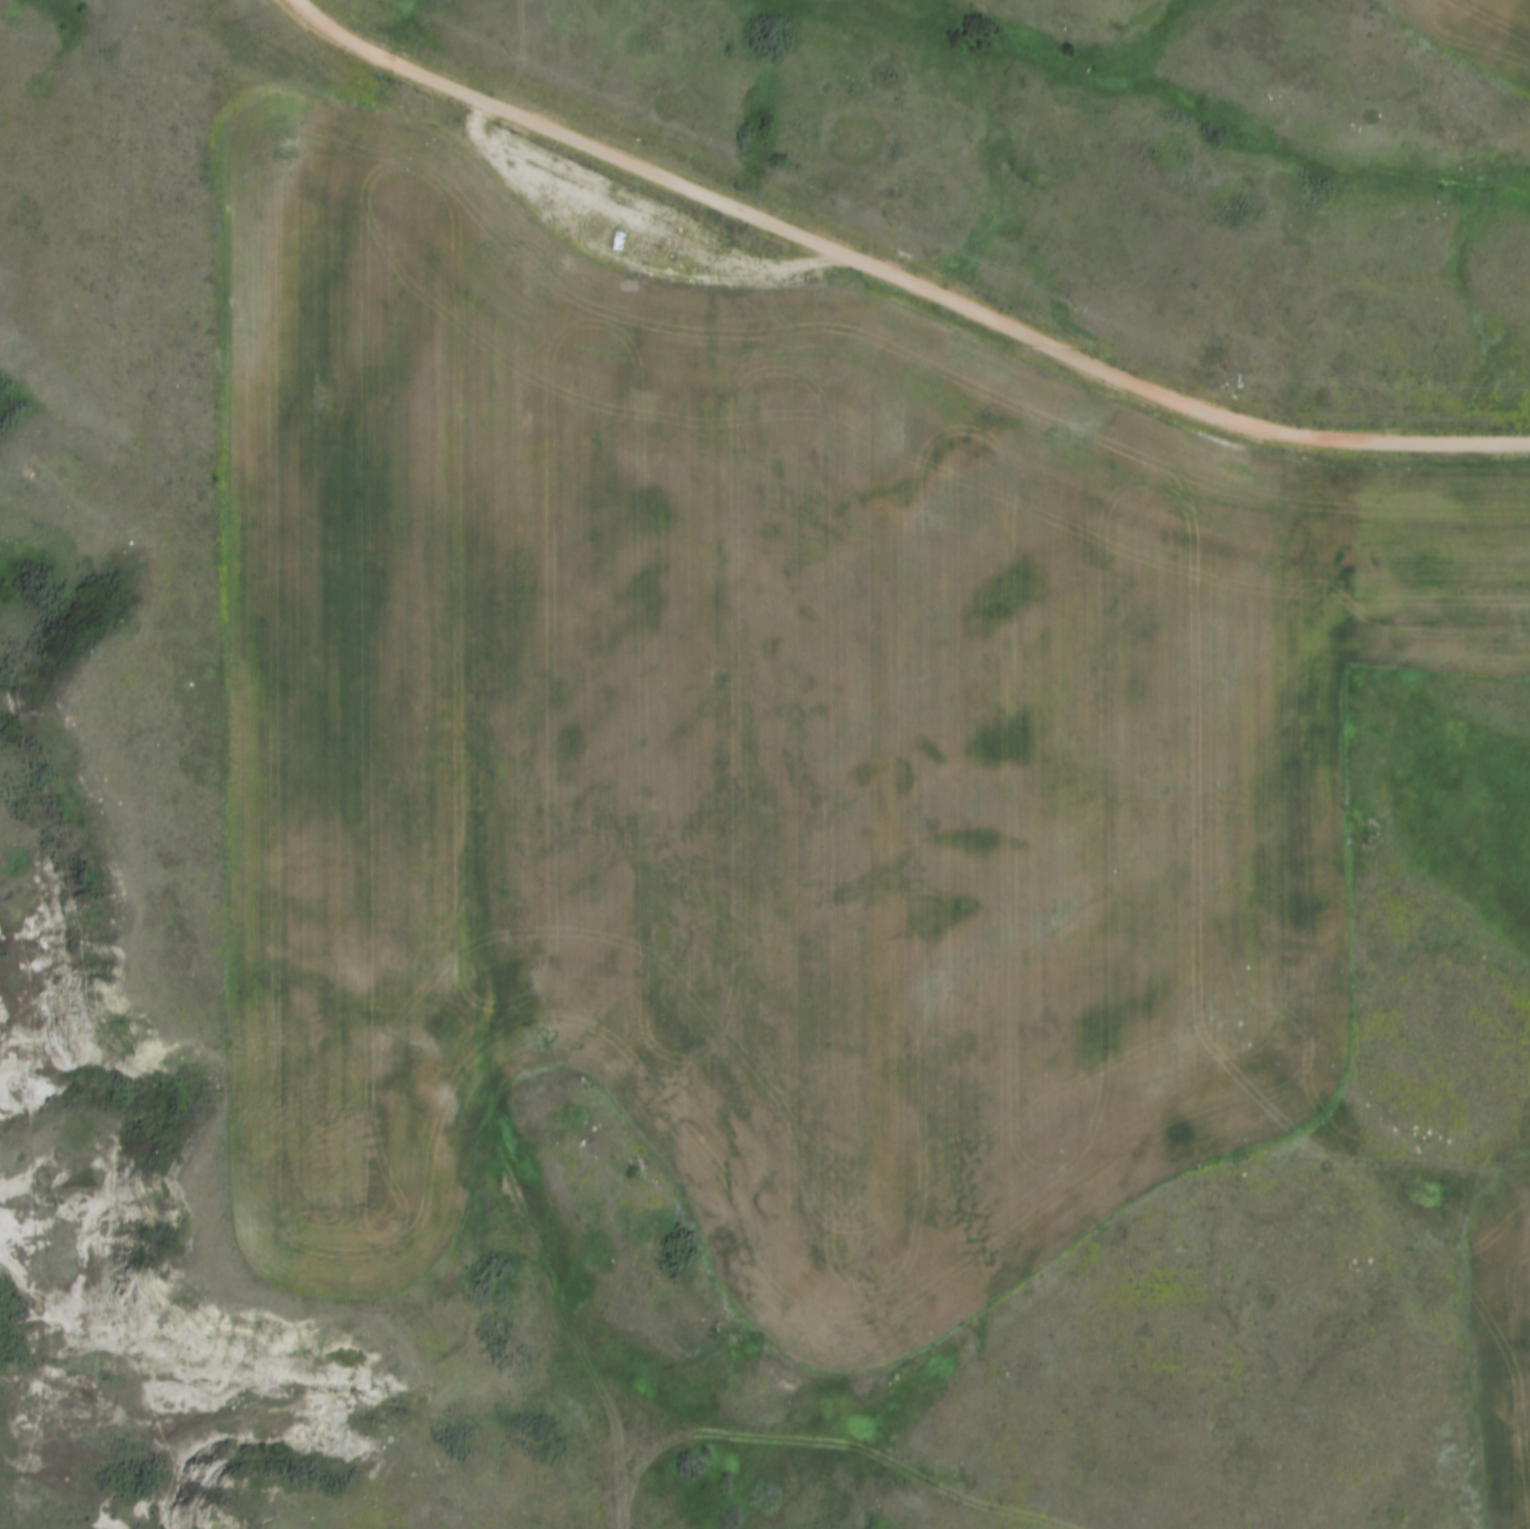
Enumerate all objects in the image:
road: (833, 1482)

